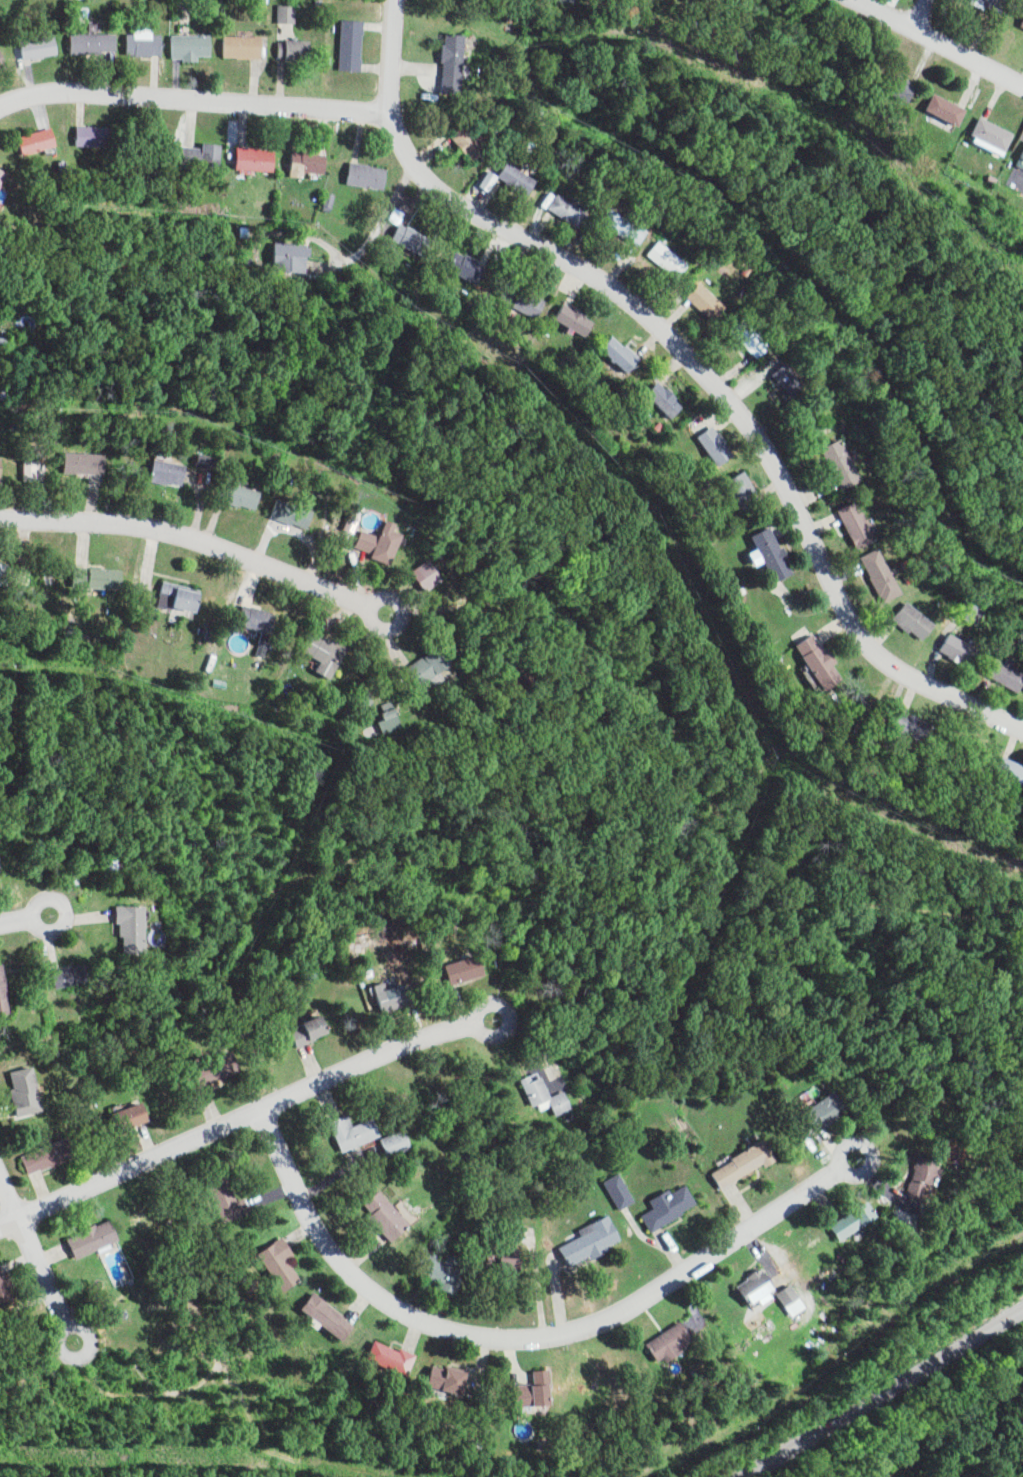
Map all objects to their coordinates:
building: (991, 4)
building: (292, 13)
road: (918, 17)
building: (1022, 25)
building: (101, 43)
building: (150, 43)
building: (357, 45)
road: (932, 45)
building: (196, 47)
building: (250, 47)
building: (45, 48)
building: (302, 49)
building: (0, 55)
building: (460, 63)
building: (0, 71)
building: (897, 86)
road: (193, 100)
building: (944, 109)
building: (102, 136)
building: (46, 141)
building: (474, 143)
building: (206, 155)
building: (1022, 158)
building: (263, 159)
building: (314, 163)
building: (374, 175)
building: (525, 179)
building: (5, 180)
building: (496, 180)
building: (571, 208)
building: (297, 257)
building: (674, 259)
building: (472, 266)
building: (530, 299)
building: (581, 318)
building: (752, 339)
building: (627, 353)
road: (692, 367)
building: (2, 377)
building: (791, 379)
building: (673, 400)
building: (715, 445)
building: (92, 463)
building: (840, 464)
building: (40, 471)
building: (177, 472)
building: (741, 491)
building: (247, 495)
building: (298, 514)
building: (360, 518)
building: (857, 524)
building: (388, 542)
road: (211, 543)
building: (771, 554)
building: (434, 575)
building: (882, 576)
building: (107, 578)
building: (190, 598)
building: (971, 612)
building: (914, 621)
building: (265, 627)
building: (960, 649)
building: (333, 653)
building: (818, 661)
building: (438, 666)
building: (1006, 672)
building: (912, 725)
building: (1010, 769)
road: (22, 913)
building: (132, 929)
building: (468, 969)
building: (71, 976)
building: (392, 996)
building: (309, 1029)
building: (211, 1073)
building: (26, 1090)
building: (545, 1095)
building: (825, 1110)
building: (128, 1117)
road: (243, 1117)
building: (352, 1132)
building: (48, 1156)
building: (741, 1164)
building: (923, 1174)
building: (226, 1198)
road: (6, 1201)
building: (669, 1206)
building: (385, 1215)
building: (852, 1220)
building: (93, 1239)
building: (590, 1241)
building: (278, 1263)
building: (442, 1270)
road: (31, 1275)
building: (756, 1293)
building: (792, 1299)
building: (326, 1316)
road: (525, 1339)
building: (668, 1342)
building: (391, 1358)
building: (446, 1379)
road: (882, 1393)
building: (527, 1394)

